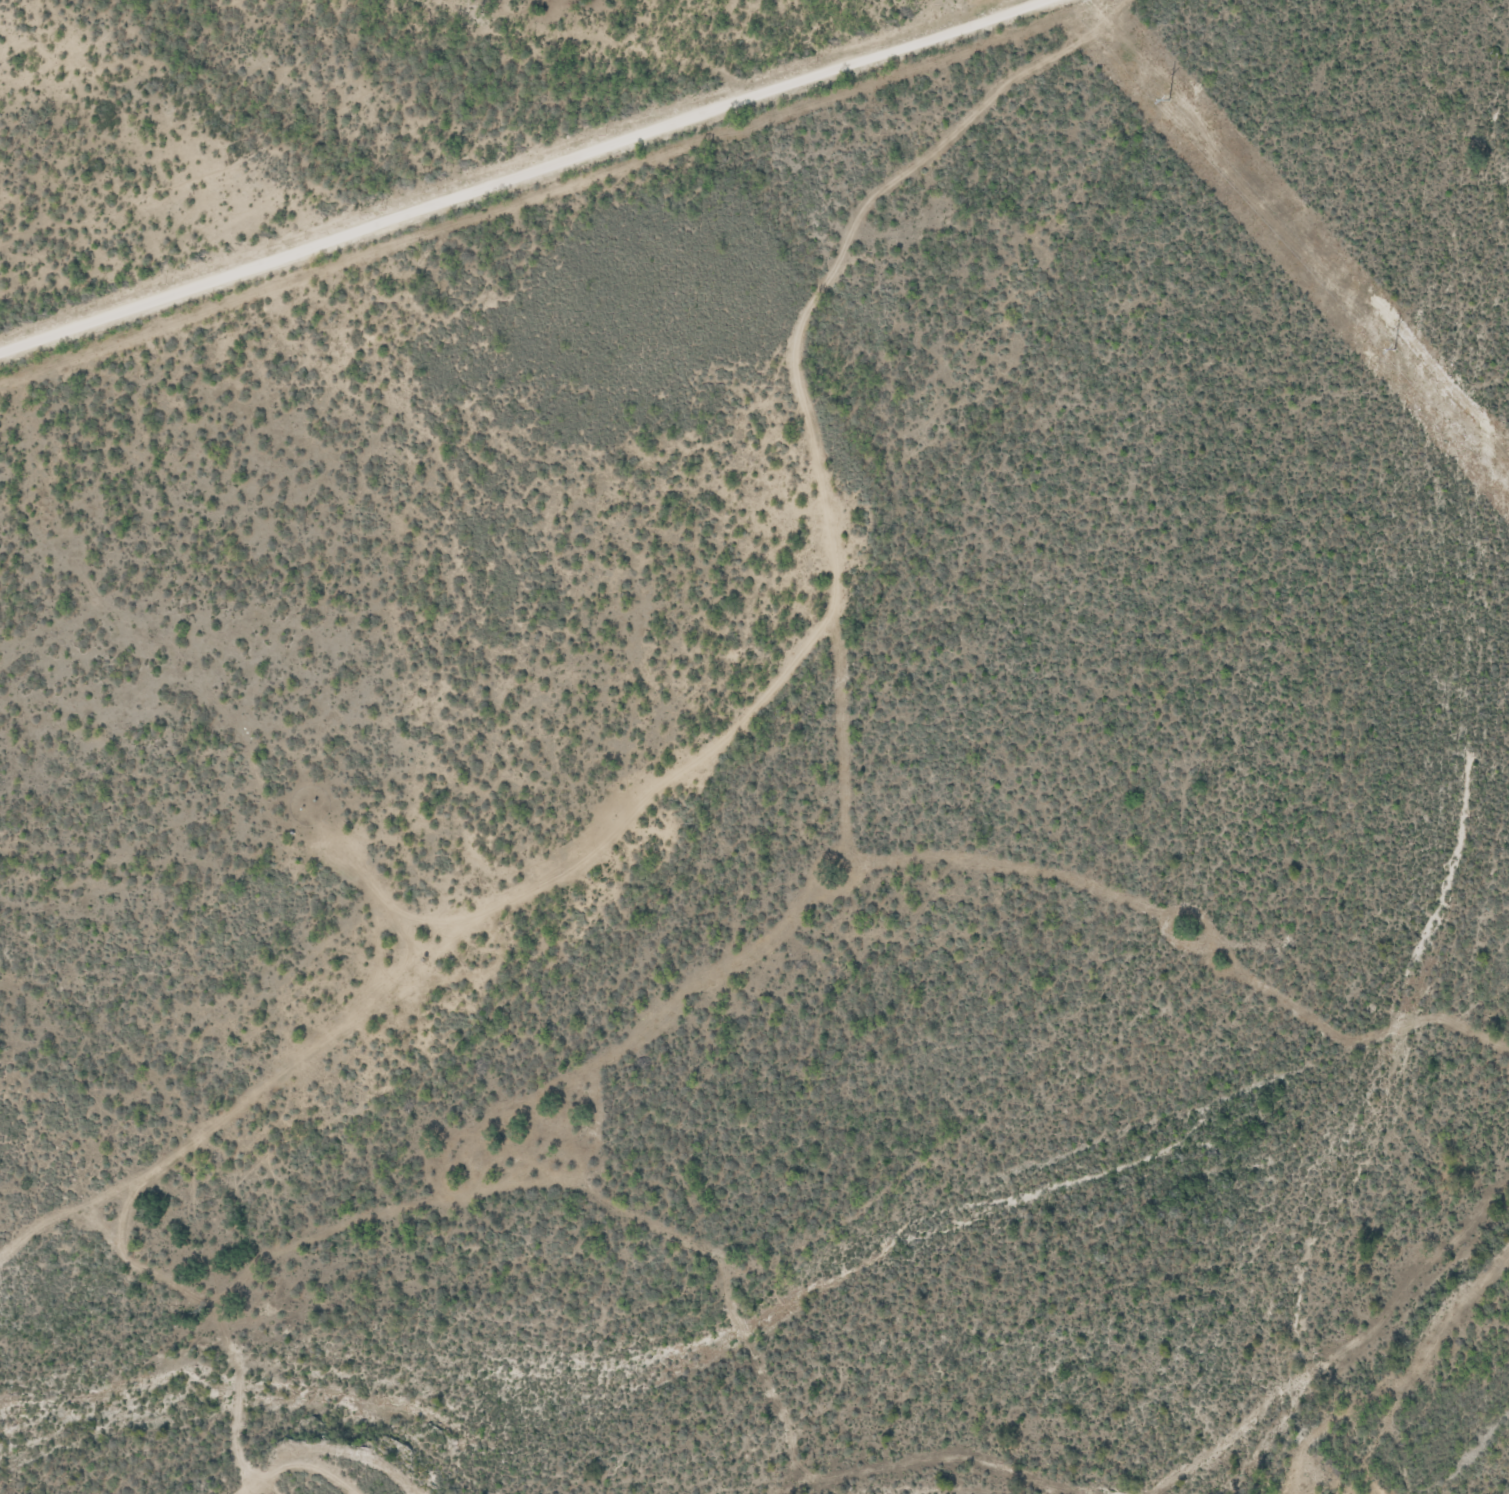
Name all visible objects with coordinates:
road: (782, 12)
power tower: (1156, 93)
road: (467, 197)
power tower: (1385, 342)

